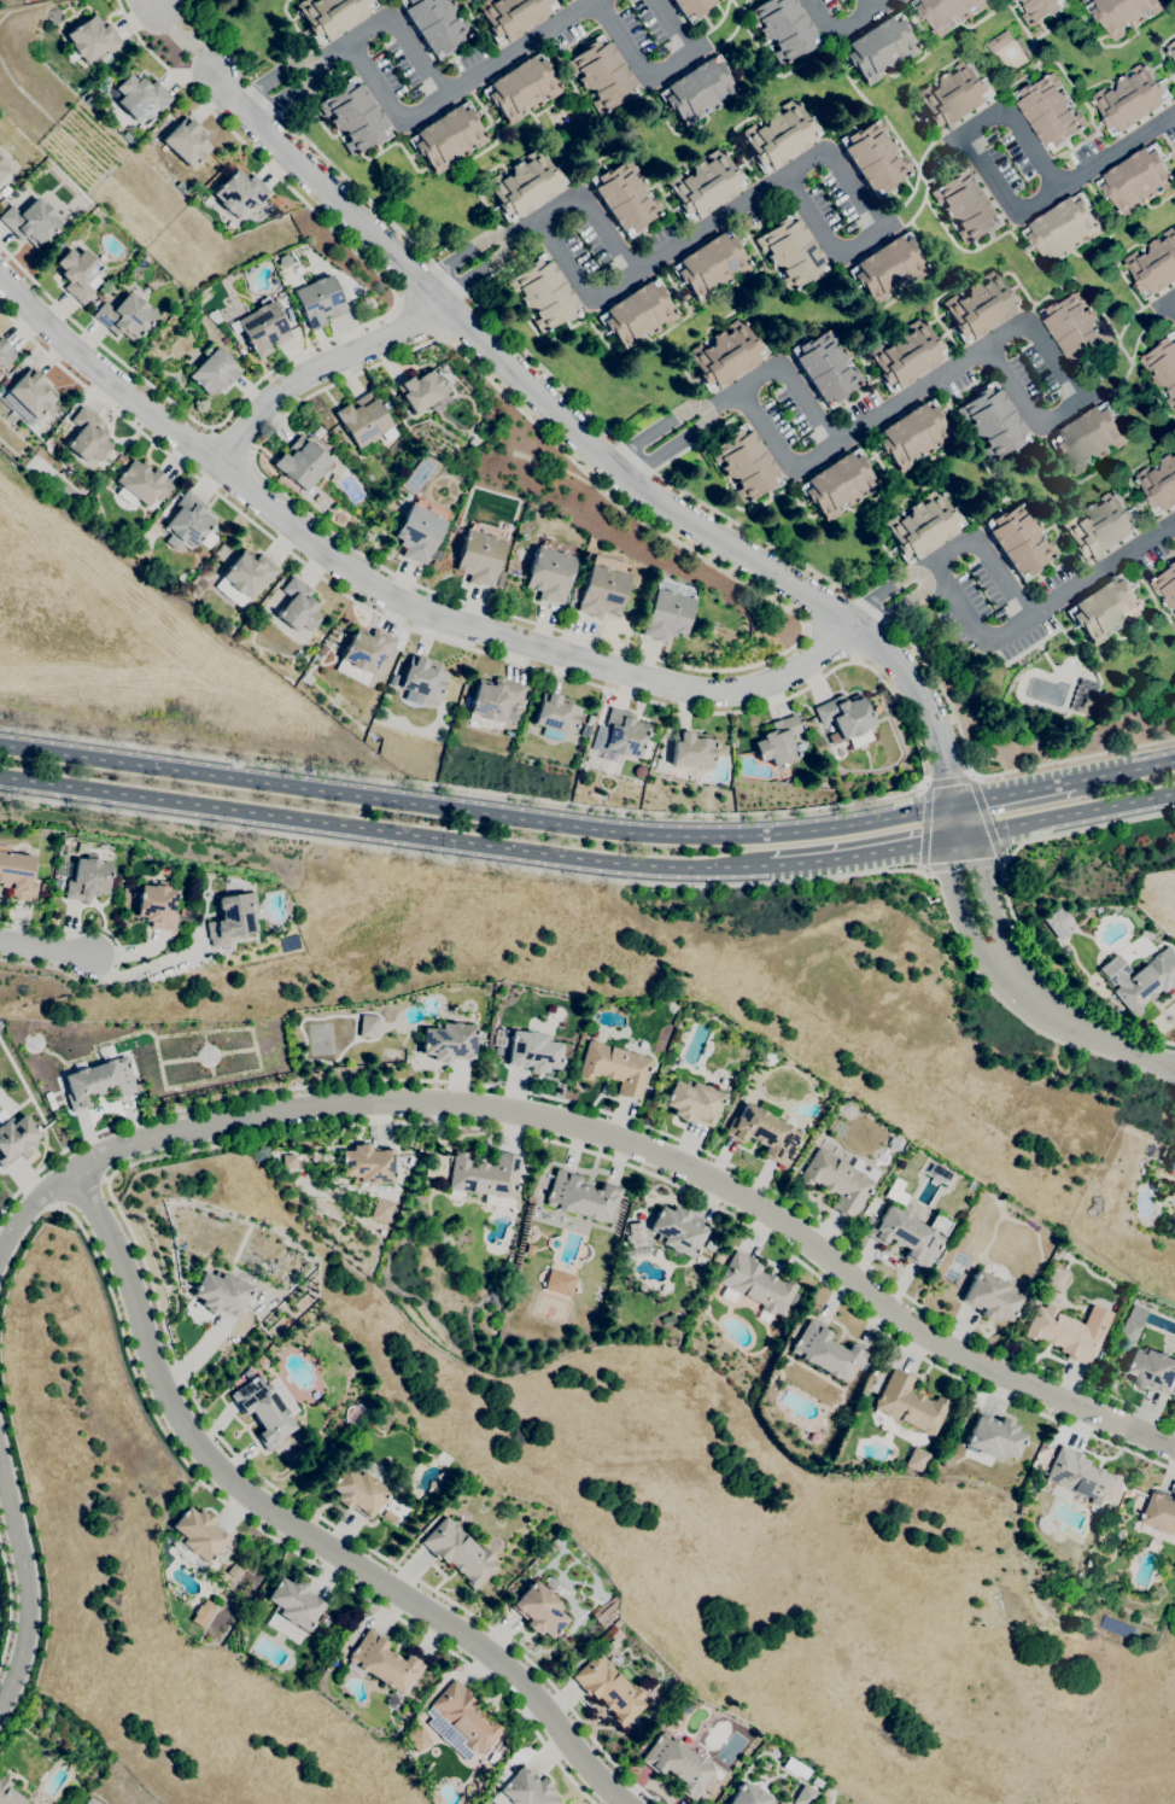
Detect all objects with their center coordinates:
road: (598, 0)
building: (1013, 0)
road: (152, 5)
road: (872, 5)
road: (883, 5)
building: (691, 7)
building: (1041, 10)
building: (947, 12)
building: (1122, 13)
building: (331, 14)
building: (511, 16)
building: (434, 23)
building: (783, 28)
road: (837, 34)
road: (179, 36)
road: (404, 39)
building: (90, 40)
building: (999, 41)
building: (878, 48)
building: (1171, 48)
building: (601, 74)
road: (659, 76)
building: (521, 88)
building: (697, 91)
building: (139, 95)
building: (953, 97)
building: (1130, 99)
building: (89, 101)
building: (1050, 111)
building: (353, 116)
road: (407, 124)
road: (965, 133)
building: (778, 135)
building: (446, 136)
building: (128, 138)
building: (186, 141)
road: (1118, 151)
building: (873, 157)
building: (1, 168)
building: (1136, 179)
building: (524, 185)
building: (705, 185)
building: (4, 191)
building: (239, 192)
building: (624, 197)
building: (966, 204)
road: (721, 211)
road: (594, 214)
building: (30, 222)
building: (1063, 228)
building: (791, 252)
building: (711, 264)
building: (1154, 264)
building: (887, 268)
building: (78, 274)
building: (543, 293)
building: (318, 300)
road: (1170, 302)
building: (980, 305)
building: (637, 314)
building: (124, 316)
building: (262, 328)
road: (358, 328)
building: (1076, 329)
building: (224, 340)
building: (240, 351)
building: (5, 354)
building: (906, 354)
building: (725, 355)
road: (318, 367)
building: (825, 367)
building: (1163, 367)
building: (212, 370)
building: (2, 384)
road: (795, 385)
building: (420, 389)
building: (29, 395)
road: (917, 395)
building: (380, 397)
building: (385, 404)
building: (362, 420)
building: (992, 421)
road: (270, 428)
building: (912, 434)
building: (87, 436)
building: (1088, 437)
road: (232, 444)
road: (600, 446)
building: (1174, 446)
building: (1174, 449)
building: (121, 460)
building: (302, 463)
building: (744, 463)
building: (334, 478)
building: (141, 481)
building: (838, 484)
building: (1159, 484)
road: (697, 497)
building: (317, 498)
building: (188, 524)
building: (922, 525)
building: (1100, 527)
building: (420, 529)
building: (1018, 539)
building: (479, 553)
building: (434, 555)
road: (989, 555)
building: (550, 570)
building: (247, 572)
building: (499, 578)
building: (602, 586)
building: (1165, 586)
road: (386, 595)
building: (297, 606)
building: (1105, 607)
building: (667, 611)
building: (227, 629)
building: (238, 637)
road: (999, 638)
road: (829, 643)
building: (320, 652)
building: (362, 654)
building: (422, 677)
road: (887, 688)
building: (493, 697)
building: (1085, 701)
building: (555, 716)
building: (843, 716)
building: (585, 734)
building: (624, 735)
building: (858, 738)
building: (777, 741)
building: (691, 749)
road: (1124, 771)
road: (947, 776)
road: (1013, 793)
road: (477, 811)
road: (1066, 813)
road: (987, 822)
road: (924, 828)
road: (384, 829)
road: (1082, 830)
road: (864, 852)
road: (463, 859)
road: (964, 870)
building: (17, 874)
building: (87, 877)
building: (156, 905)
building: (183, 911)
building: (230, 918)
building: (1056, 924)
road: (45, 950)
road: (118, 957)
road: (1058, 981)
building: (1146, 981)
road: (1028, 988)
building: (367, 1026)
building: (498, 1040)
building: (448, 1041)
building: (106, 1051)
building: (532, 1051)
building: (766, 1058)
building: (615, 1068)
building: (98, 1082)
building: (48, 1096)
building: (692, 1102)
building: (51, 1105)
road: (608, 1114)
building: (765, 1131)
road: (602, 1132)
building: (16, 1138)
road: (251, 1139)
building: (410, 1161)
building: (1171, 1163)
building: (366, 1164)
building: (484, 1175)
building: (836, 1181)
building: (895, 1191)
building: (580, 1196)
building: (381, 1210)
building: (677, 1230)
building: (908, 1233)
road: (19, 1239)
building: (638, 1239)
building: (709, 1245)
building: (1056, 1279)
building: (559, 1282)
building: (755, 1285)
building: (718, 1289)
building: (221, 1292)
building: (990, 1296)
building: (705, 1307)
building: (1099, 1321)
building: (1132, 1324)
building: (1063, 1333)
building: (826, 1351)
building: (1151, 1370)
building: (246, 1371)
building: (908, 1403)
building: (263, 1411)
building: (993, 1437)
building: (814, 1438)
building: (916, 1459)
building: (1083, 1478)
building: (357, 1491)
building: (1059, 1491)
building: (1139, 1499)
building: (1161, 1512)
building: (388, 1516)
road: (300, 1524)
building: (1120, 1535)
building: (195, 1537)
road: (274, 1539)
building: (1152, 1546)
building: (458, 1552)
building: (235, 1569)
road: (35, 1576)
road: (28, 1583)
road: (7, 1601)
building: (293, 1602)
building: (538, 1610)
building: (203, 1613)
building: (382, 1662)
building: (609, 1688)
building: (684, 1706)
building: (461, 1720)
building: (637, 1720)
building: (417, 1739)
building: (677, 1764)
building: (520, 1788)
building: (8, 1793)
building: (747, 1796)
building: (805, 1796)
building: (90, 1802)

